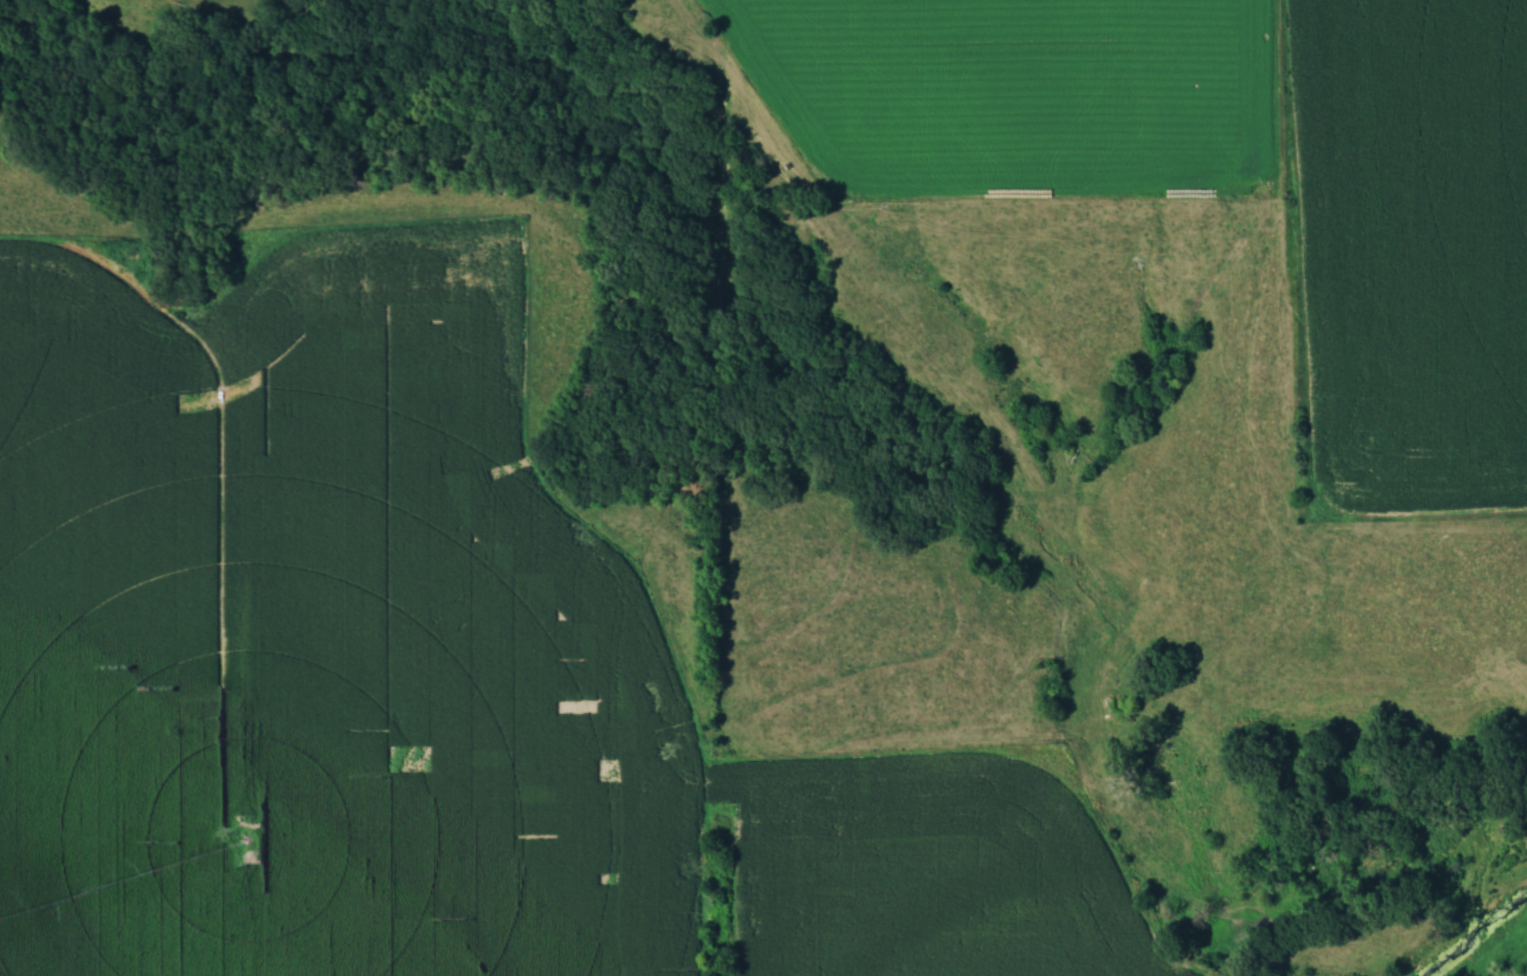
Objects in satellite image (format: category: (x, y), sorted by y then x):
river: (1472, 932)

